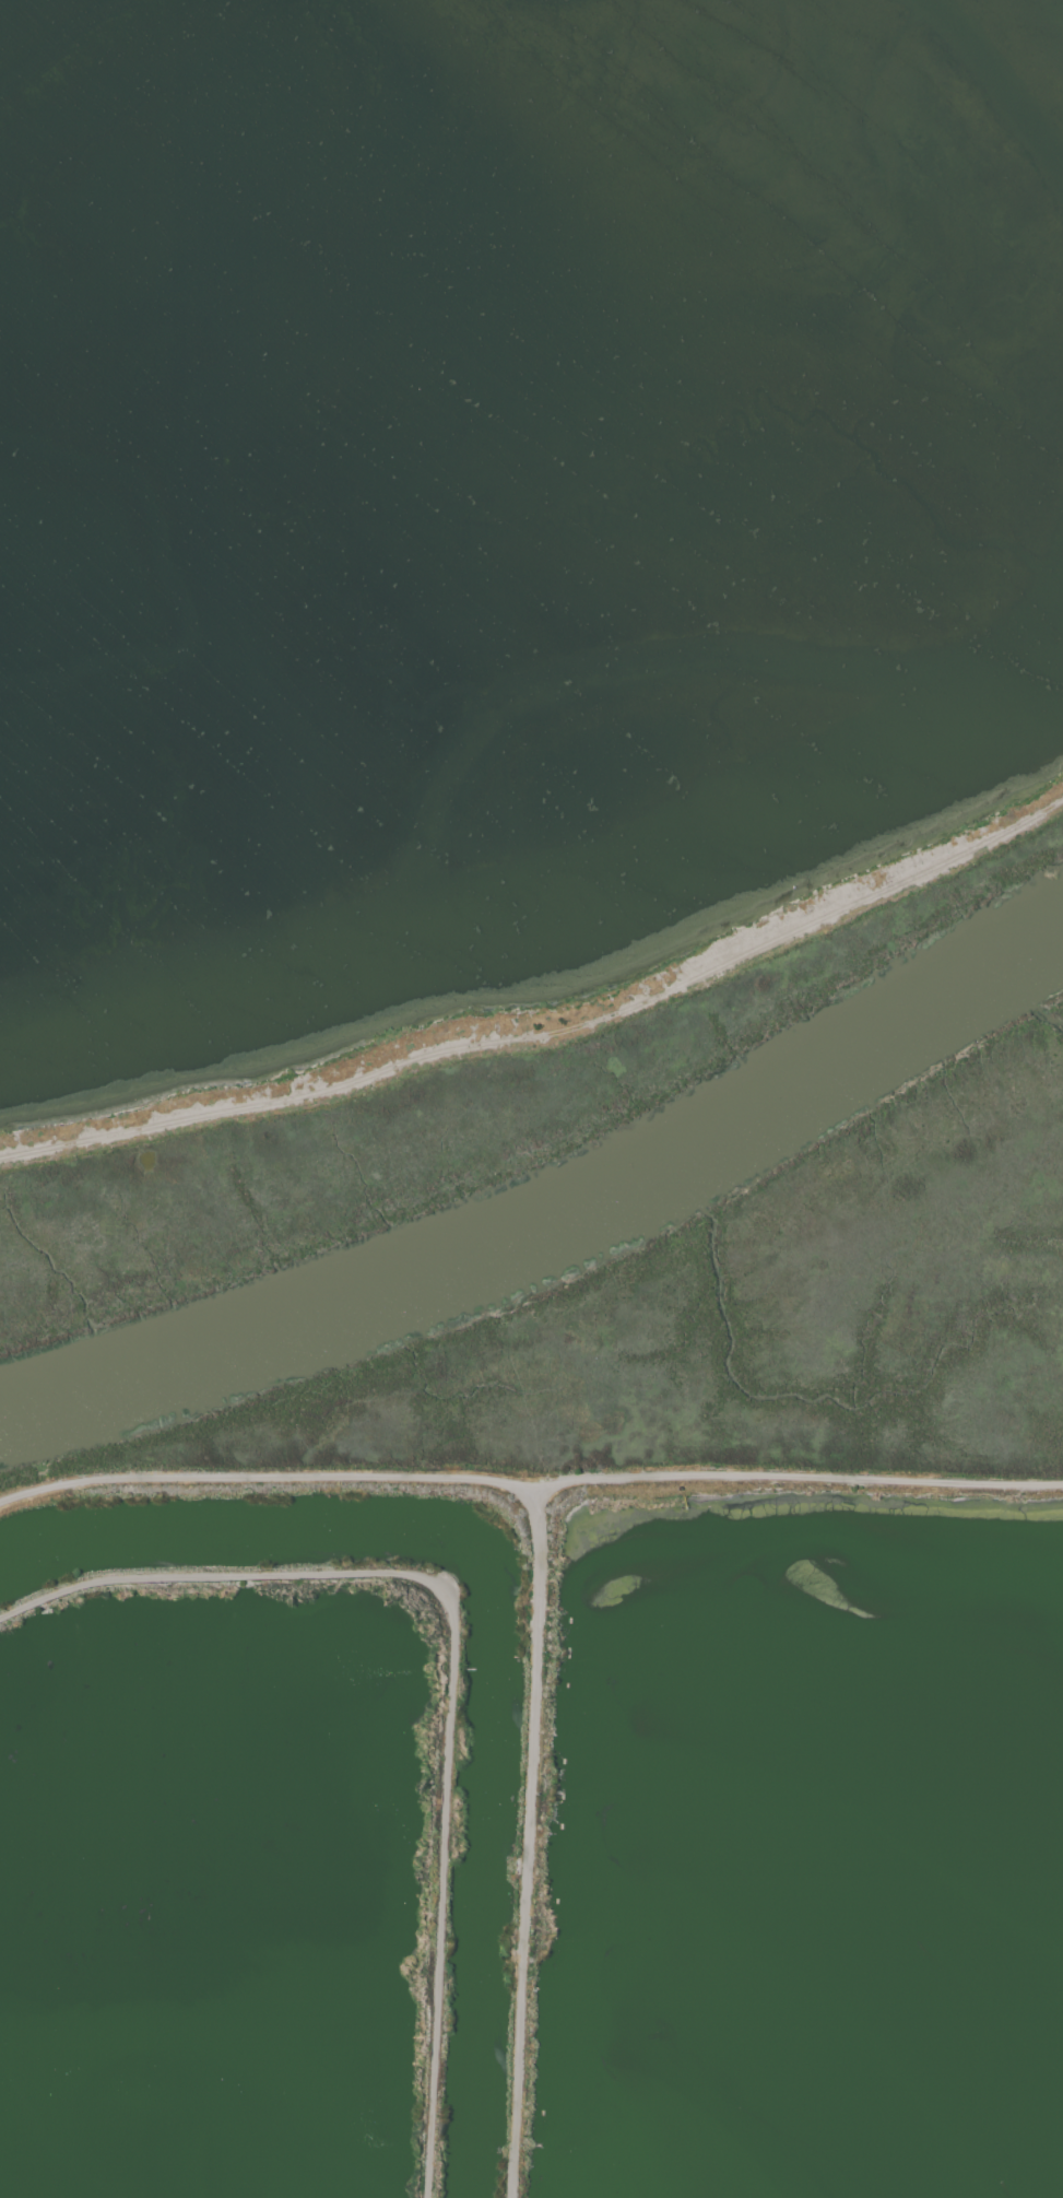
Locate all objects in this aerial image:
road: (550, 1034)
river: (547, 1224)
road: (529, 1486)
road: (452, 1666)
road: (521, 1843)

